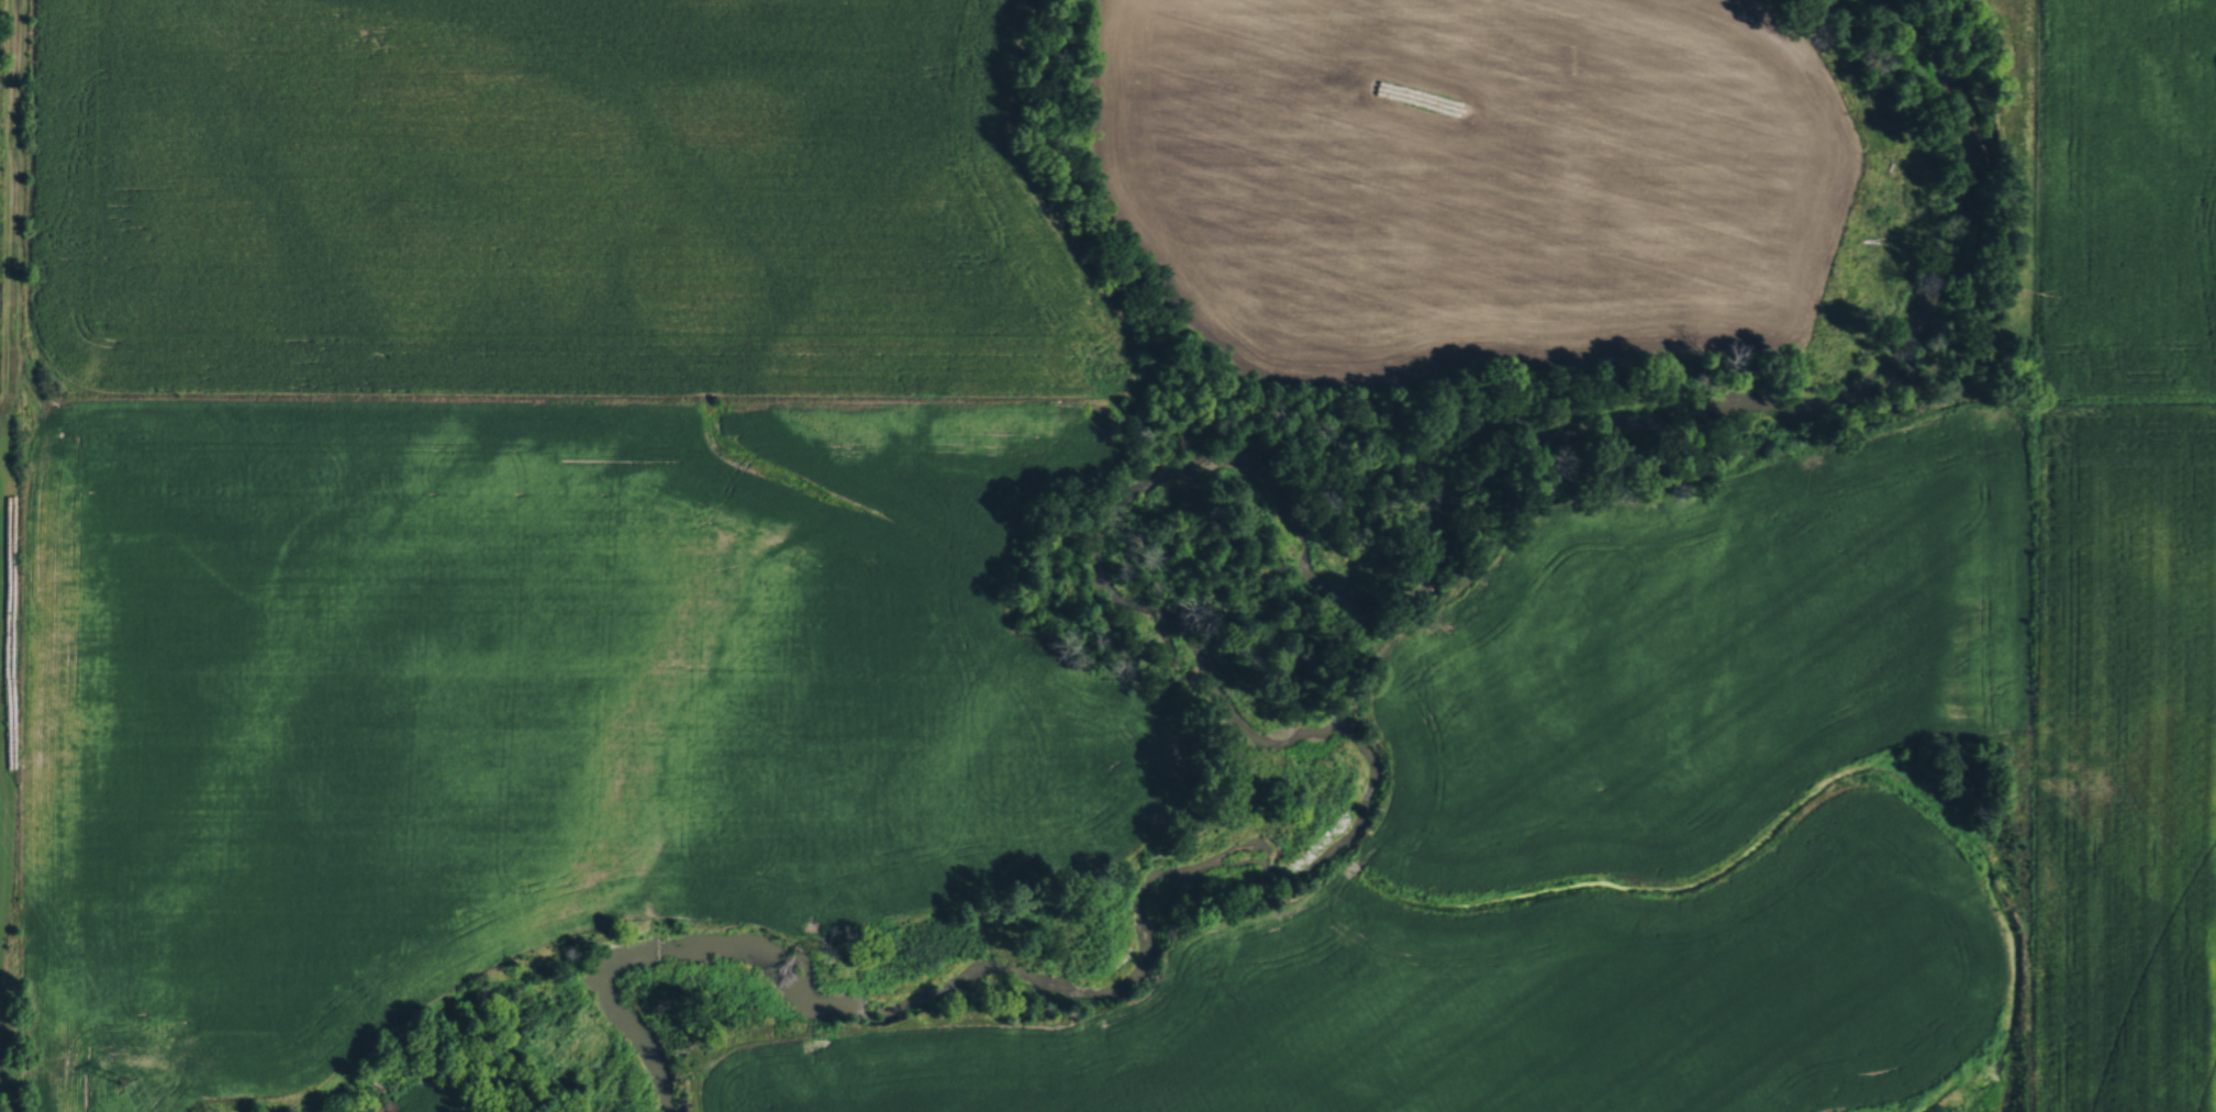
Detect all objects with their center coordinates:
power tower: (124, 1080)

